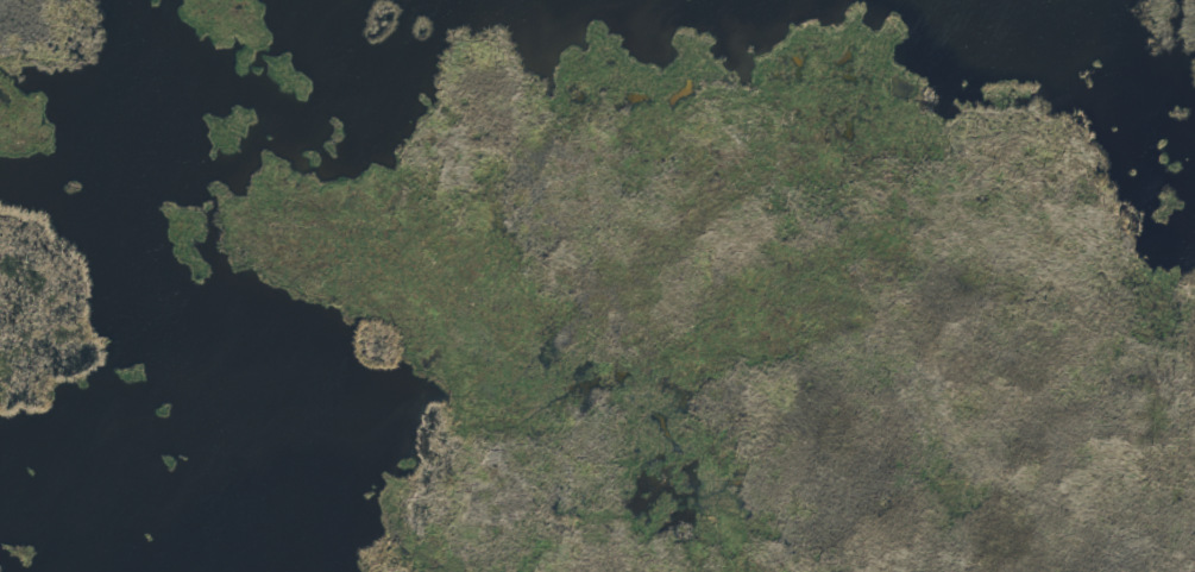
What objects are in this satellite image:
park: (597, 285)

